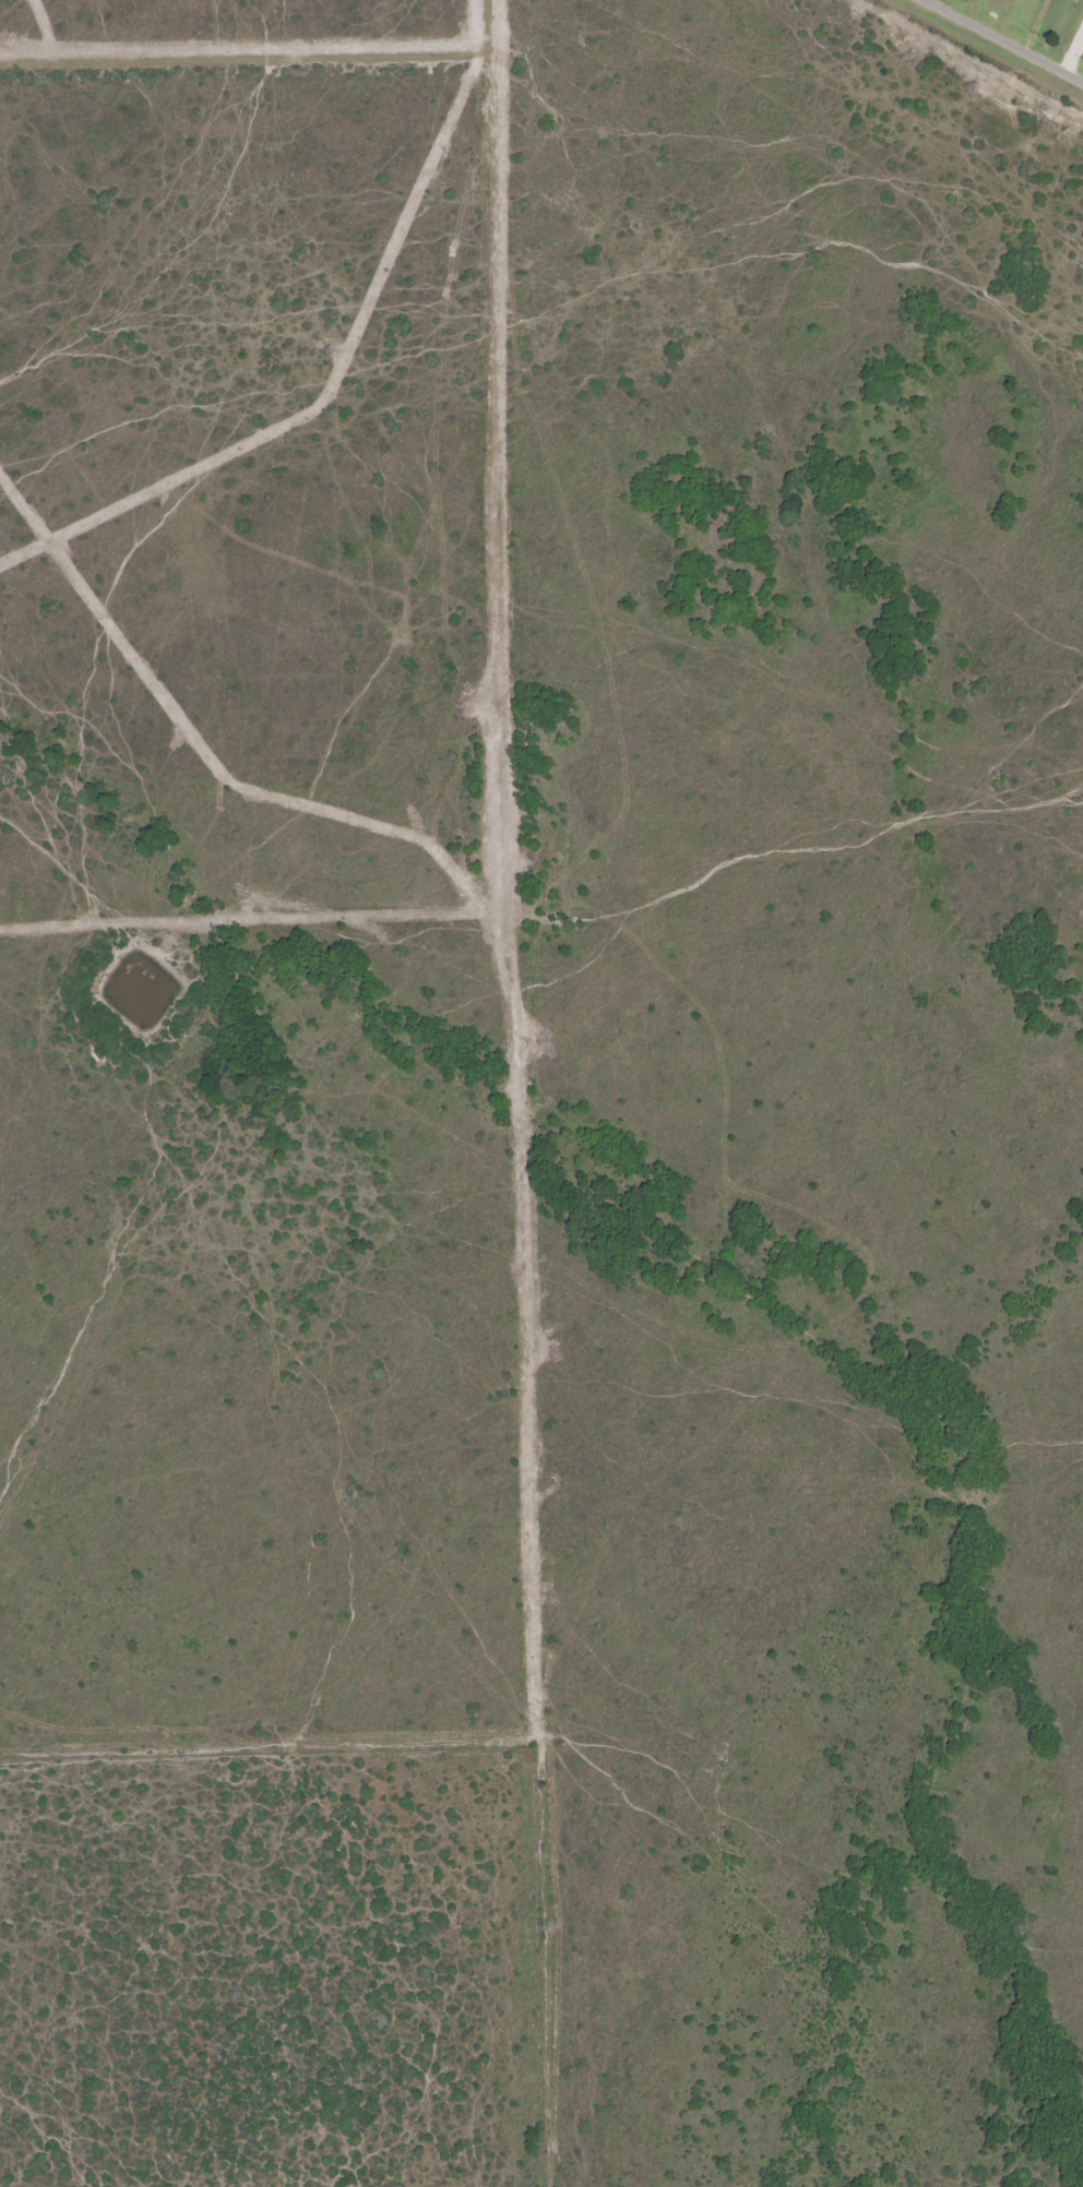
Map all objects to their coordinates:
road: (1008, 38)

